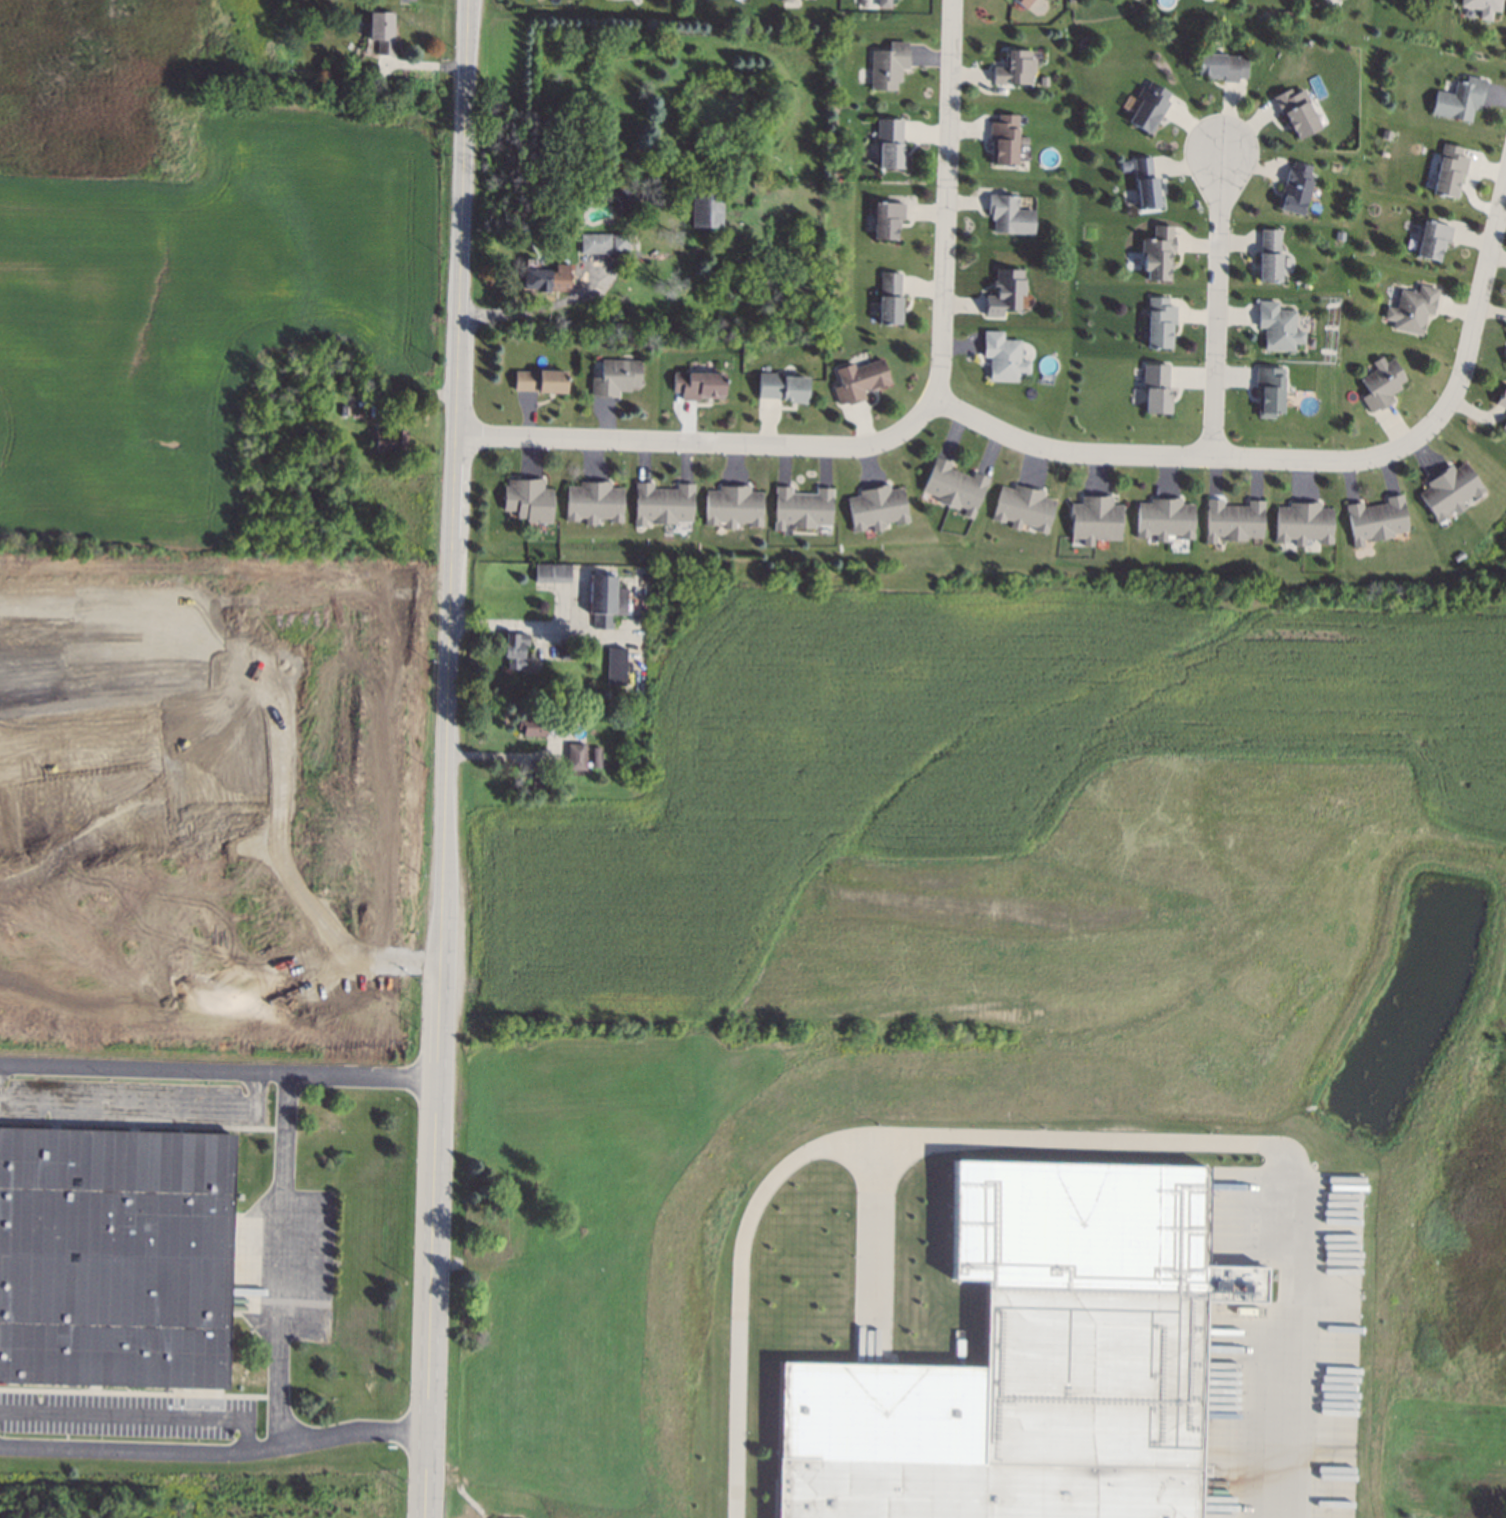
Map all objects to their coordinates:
building: (786, 0)
building: (882, 3)
building: (1022, 3)
building: (1481, 7)
building: (381, 32)
building: (887, 66)
building: (1222, 66)
building: (371, 67)
building: (1013, 68)
building: (1458, 99)
building: (1148, 106)
building: (1295, 112)
building: (1386, 135)
building: (1001, 139)
building: (888, 143)
building: (1448, 171)
building: (1145, 183)
building: (1294, 187)
building: (629, 197)
road: (945, 200)
building: (703, 209)
building: (1008, 215)
building: (887, 219)
building: (1431, 239)
building: (605, 242)
building: (1156, 253)
building: (1268, 256)
building: (752, 260)
building: (545, 278)
building: (1003, 292)
building: (889, 298)
crop: (213, 305)
road: (1218, 306)
building: (1411, 310)
road: (521, 313)
road: (1477, 314)
building: (1158, 322)
building: (1276, 326)
building: (1002, 357)
building: (1505, 365)
building: (614, 376)
building: (332, 379)
building: (539, 380)
building: (857, 380)
building: (1380, 384)
building: (698, 385)
building: (783, 385)
building: (1268, 388)
building: (1155, 389)
road: (402, 395)
building: (1501, 400)
building: (277, 409)
building: (358, 413)
building: (1503, 425)
building: (318, 438)
building: (389, 439)
road: (705, 441)
road: (1171, 454)
building: (953, 487)
building: (1449, 490)
building: (528, 499)
building: (594, 502)
building: (663, 503)
building: (733, 506)
building: (876, 507)
building: (801, 508)
building: (1023, 508)
building: (1164, 518)
building: (1094, 519)
building: (1375, 520)
building: (1232, 521)
building: (1302, 523)
building: (552, 572)
building: (604, 600)
road: (536, 627)
building: (514, 650)
building: (566, 651)
building: (615, 666)
building: (524, 709)
building: (533, 726)
building: (576, 756)
road: (500, 757)
building: (596, 757)
road: (445, 758)
crop: (991, 815)
crop: (1502, 984)
road: (220, 1076)
parking lot: (131, 1102)
road: (147, 1113)
road: (1034, 1141)
road: (878, 1251)
building: (115, 1257)
road: (281, 1262)
building: (1032, 1361)
road: (143, 1408)
parking lot: (129, 1417)
road: (216, 1452)

